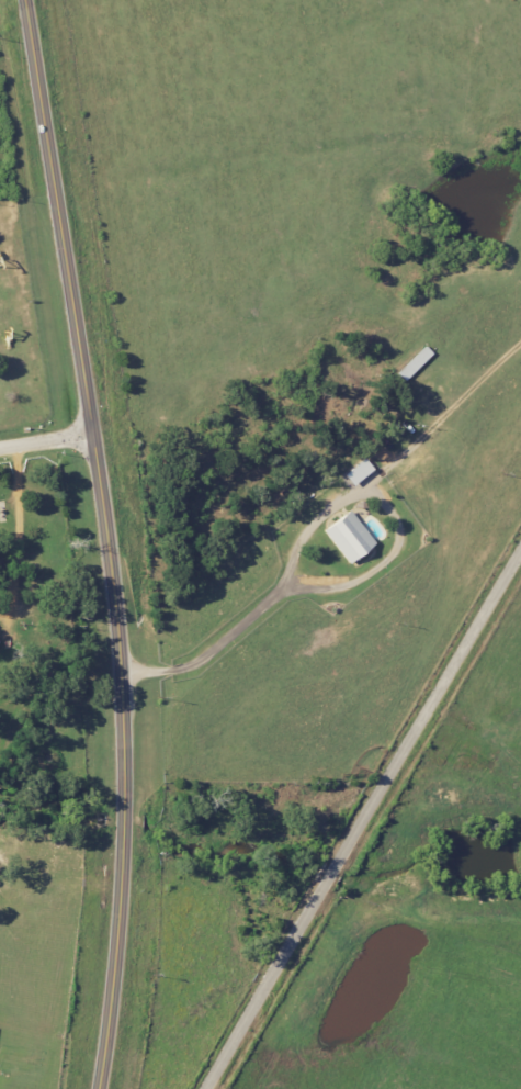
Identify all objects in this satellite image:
road: (44, 441)
road: (16, 527)
building: (347, 536)
road: (105, 542)
road: (351, 580)
road: (362, 820)

